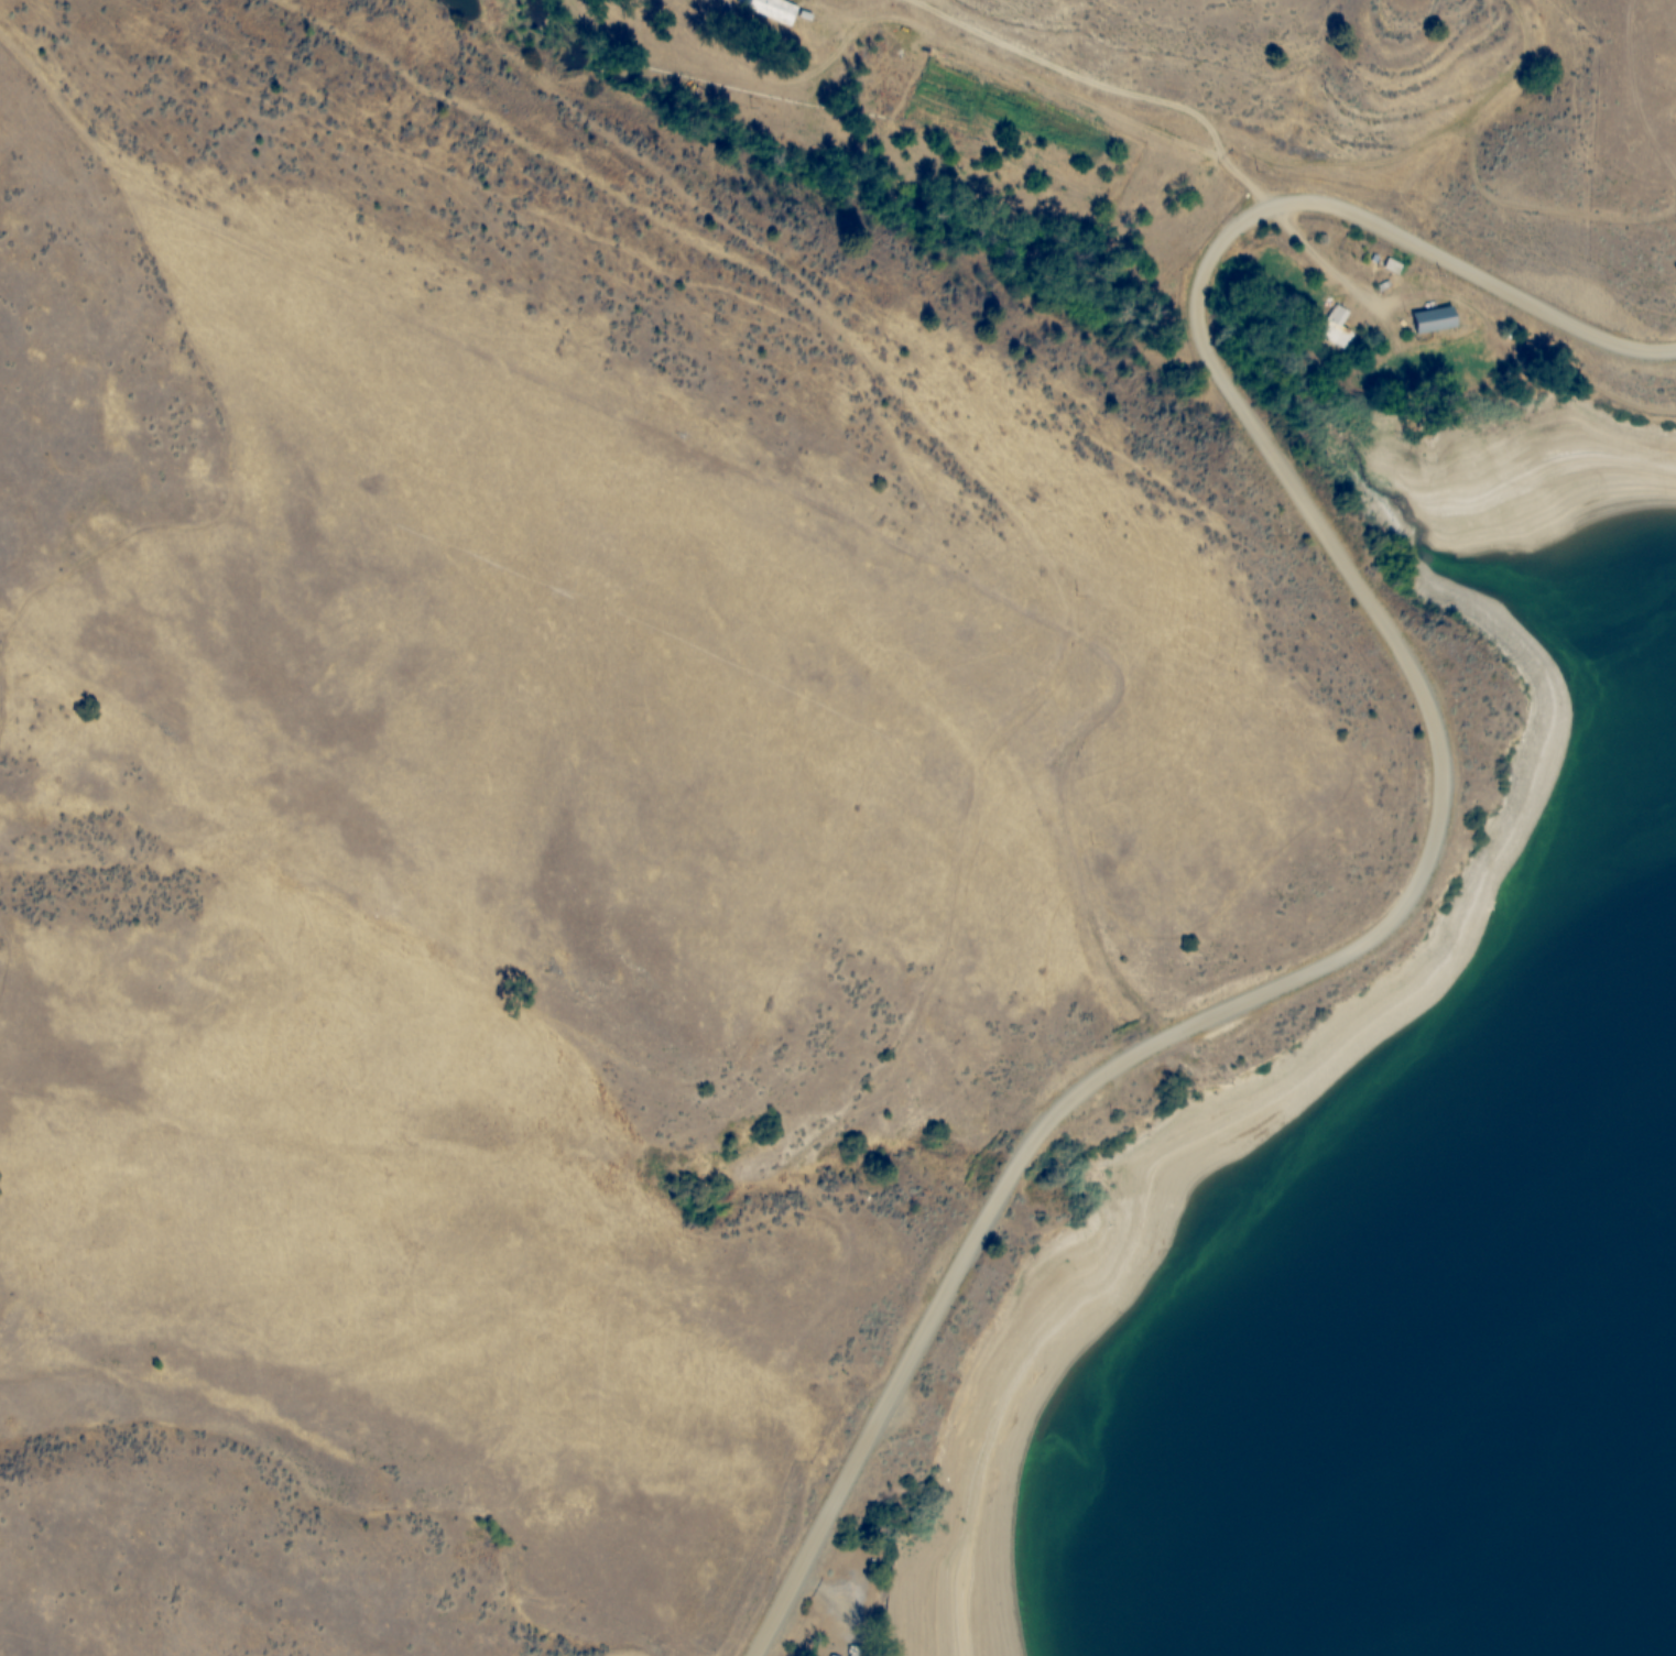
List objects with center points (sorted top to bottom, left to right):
building: (773, 10)
road: (1100, 87)
road: (1325, 261)
road: (1476, 273)
building: (1432, 318)
building: (1335, 327)
road: (1313, 968)
road: (820, 1591)
building: (855, 1653)
building: (830, 1655)

